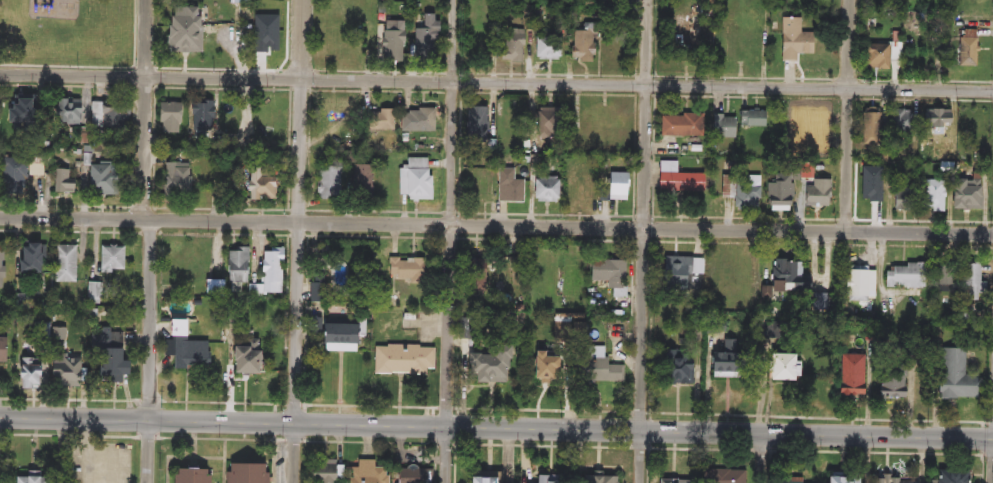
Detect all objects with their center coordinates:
building: (238, 2)
park: (66, 31)
building: (685, 32)
building: (181, 36)
building: (424, 38)
road: (136, 40)
building: (793, 40)
building: (392, 41)
building: (511, 45)
building: (547, 48)
building: (581, 48)
building: (967, 48)
building: (875, 56)
road: (72, 66)
road: (496, 85)
building: (18, 110)
building: (79, 113)
building: (118, 115)
road: (845, 117)
building: (168, 118)
building: (601, 119)
building: (200, 120)
building: (334, 120)
building: (383, 120)
building: (753, 120)
building: (935, 120)
building: (418, 121)
building: (548, 124)
building: (902, 124)
building: (679, 126)
building: (477, 127)
building: (724, 127)
building: (872, 127)
building: (14, 177)
building: (97, 178)
building: (332, 178)
building: (415, 179)
building: (677, 179)
building: (62, 182)
building: (177, 182)
building: (361, 183)
building: (510, 185)
building: (263, 187)
building: (615, 187)
building: (223, 189)
building: (546, 189)
building: (577, 189)
building: (742, 191)
building: (781, 194)
building: (817, 194)
building: (934, 196)
building: (966, 196)
building: (902, 199)
road: (496, 227)
road: (144, 241)
road: (296, 241)
road: (450, 241)
road: (641, 241)
building: (111, 259)
building: (27, 260)
building: (65, 264)
building: (238, 265)
building: (1, 269)
building: (407, 270)
building: (679, 272)
building: (268, 274)
building: (340, 276)
building: (730, 276)
building: (610, 277)
building: (794, 277)
building: (908, 277)
building: (948, 278)
building: (475, 280)
building: (974, 283)
building: (859, 284)
building: (337, 338)
building: (185, 348)
building: (3, 350)
building: (108, 356)
building: (725, 358)
building: (244, 359)
building: (405, 360)
building: (487, 365)
building: (542, 367)
building: (678, 368)
building: (781, 368)
building: (64, 370)
building: (599, 372)
building: (851, 375)
building: (955, 375)
building: (30, 377)
building: (893, 383)
road: (496, 429)
road: (763, 459)
building: (324, 472)
building: (246, 473)
building: (368, 473)
building: (191, 476)
building: (412, 476)
building: (724, 476)
building: (951, 476)
building: (32, 478)
building: (482, 478)
building: (597, 479)
building: (837, 479)
building: (550, 480)
building: (791, 480)
building: (895, 480)
building: (673, 481)

